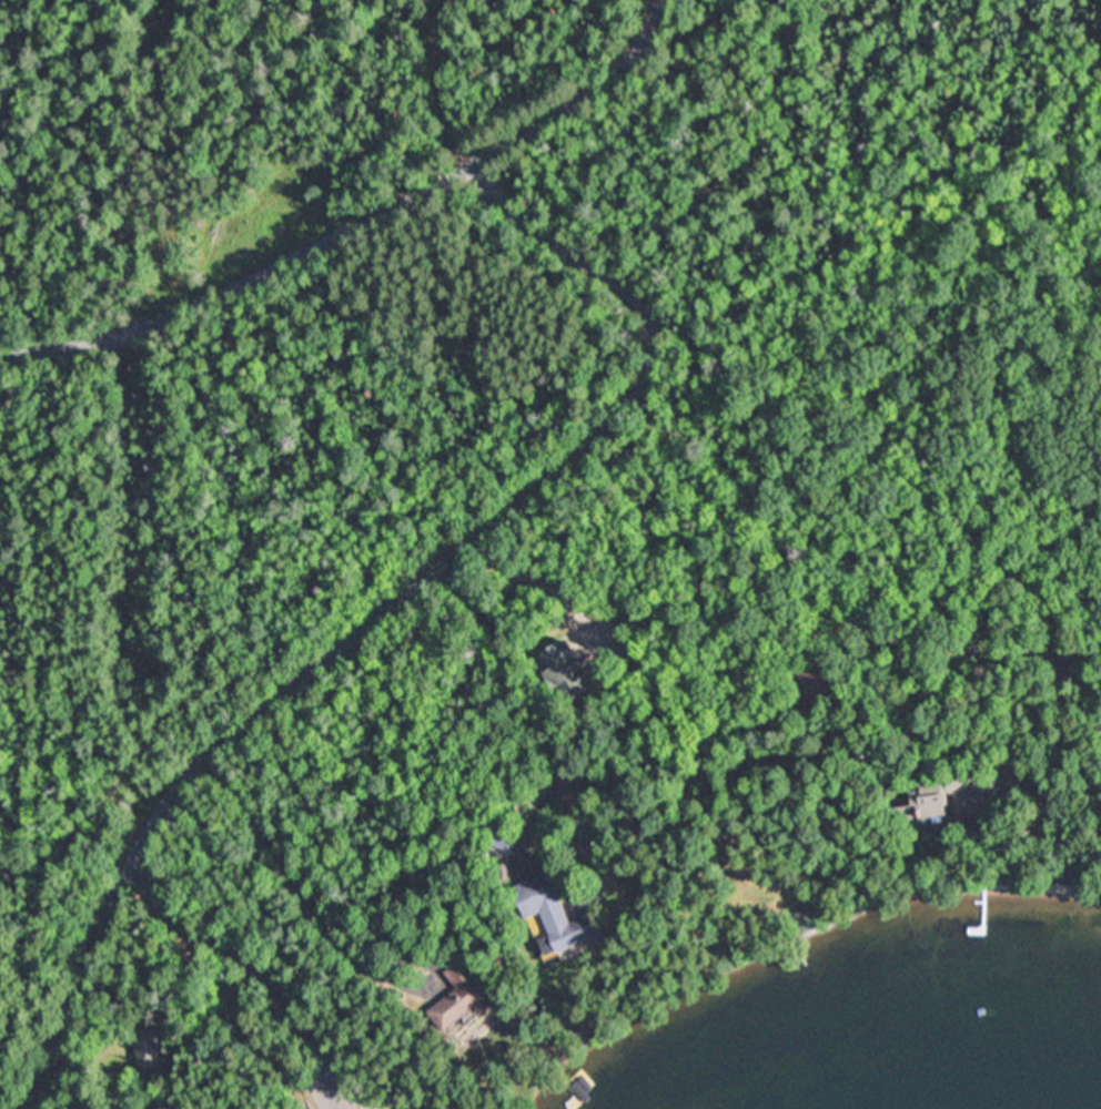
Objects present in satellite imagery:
road: (435, 90)
road: (365, 223)
road: (392, 602)
building: (1054, 659)
building: (565, 672)
building: (812, 684)
building: (935, 798)
building: (504, 841)
building: (129, 863)
building: (499, 873)
building: (1074, 876)
building: (554, 913)
building: (810, 914)
building: (464, 998)
building: (582, 1034)
building: (151, 1046)
building: (550, 1056)

